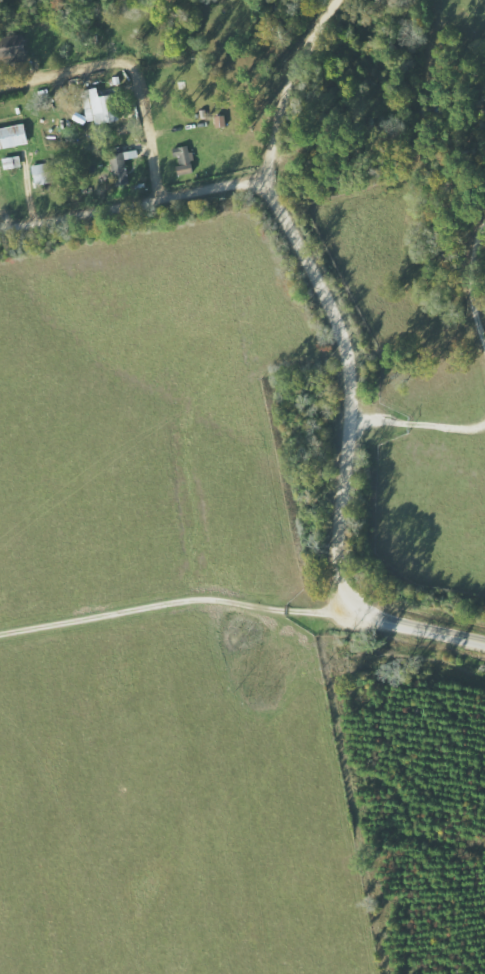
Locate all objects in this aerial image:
building: (12, 50)
road: (120, 67)
road: (277, 75)
building: (88, 100)
building: (104, 108)
building: (14, 136)
building: (123, 159)
building: (185, 160)
road: (213, 167)
building: (43, 174)
road: (84, 197)
road: (321, 365)
road: (202, 581)
road: (438, 632)

